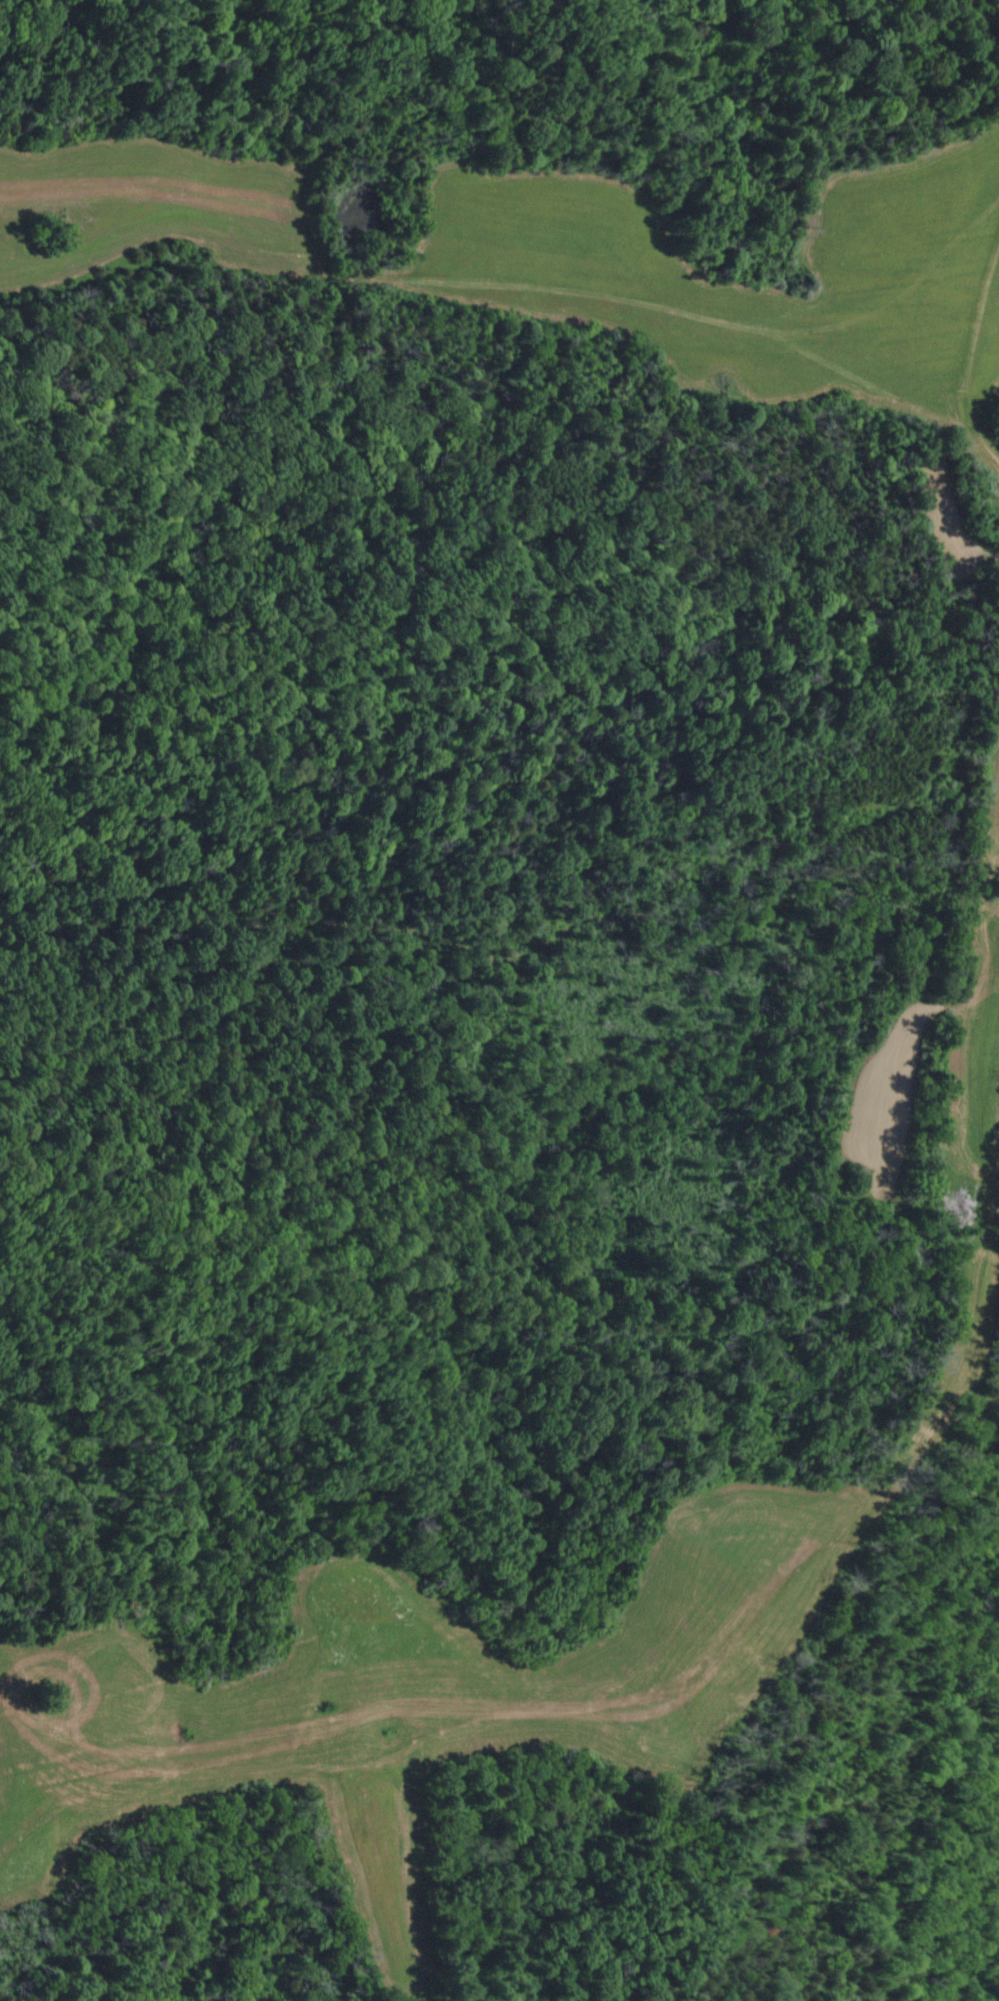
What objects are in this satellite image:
road: (921, 1368)

